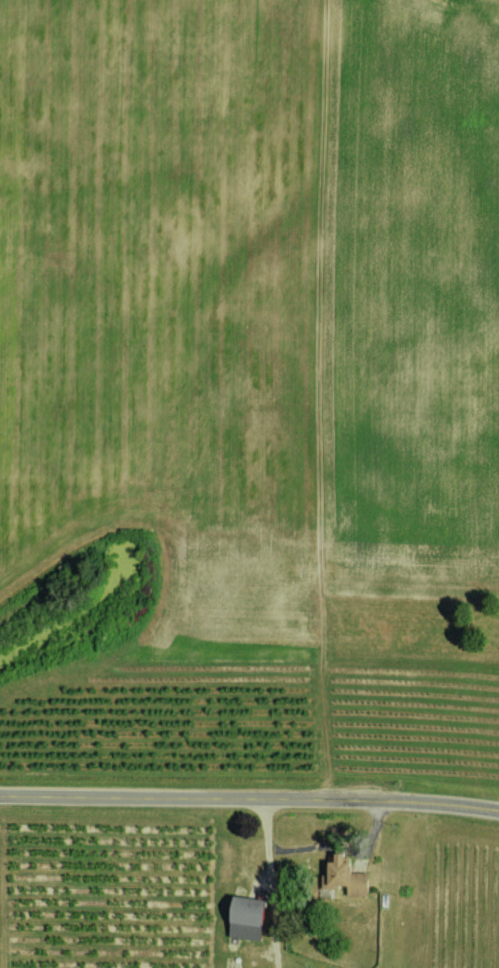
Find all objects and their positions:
road: (249, 792)
road: (315, 844)
building: (344, 876)
building: (242, 917)

